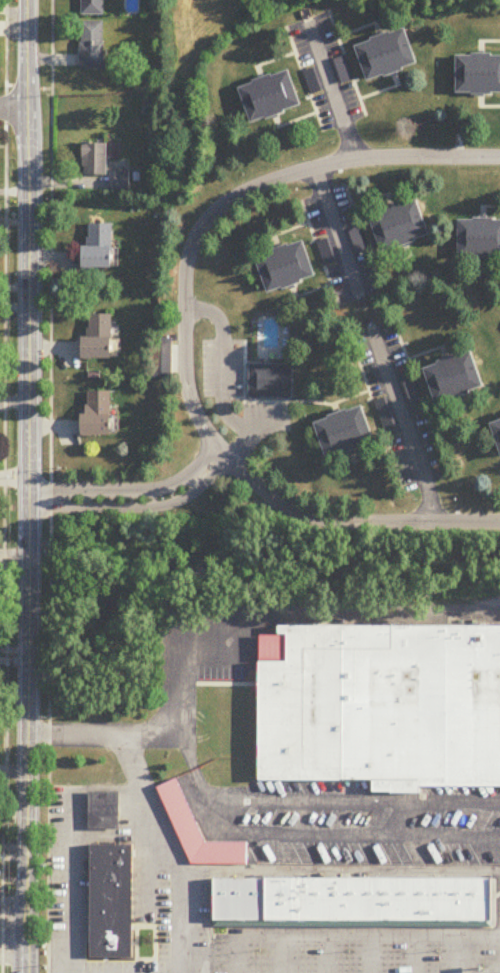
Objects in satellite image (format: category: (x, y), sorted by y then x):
building: (92, 8)
building: (92, 47)
building: (387, 56)
park: (153, 67)
building: (478, 75)
road: (331, 91)
building: (271, 97)
road: (14, 110)
building: (94, 160)
building: (122, 181)
road: (227, 201)
building: (400, 226)
road: (336, 234)
building: (479, 240)
building: (99, 248)
building: (286, 268)
building: (98, 338)
road: (221, 367)
building: (455, 379)
building: (270, 383)
building: (98, 416)
road: (403, 426)
building: (497, 430)
building: (346, 434)
road: (253, 436)
road: (219, 465)
road: (3, 486)
road: (27, 486)
road: (50, 486)
road: (350, 522)
road: (273, 615)
road: (206, 655)
road: (214, 685)
building: (381, 707)
road: (138, 737)
building: (104, 813)
road: (212, 813)
building: (197, 833)
road: (171, 857)
road: (345, 871)
road: (71, 881)
building: (112, 895)
building: (239, 900)
building: (278, 900)
building: (391, 900)
road: (494, 908)
road: (201, 924)
building: (352, 924)
road: (352, 924)
road: (351, 937)
road: (155, 943)
road: (136, 950)
building: (112, 952)
road: (283, 955)
road: (327, 955)
road: (371, 955)
road: (414, 955)
road: (459, 955)

